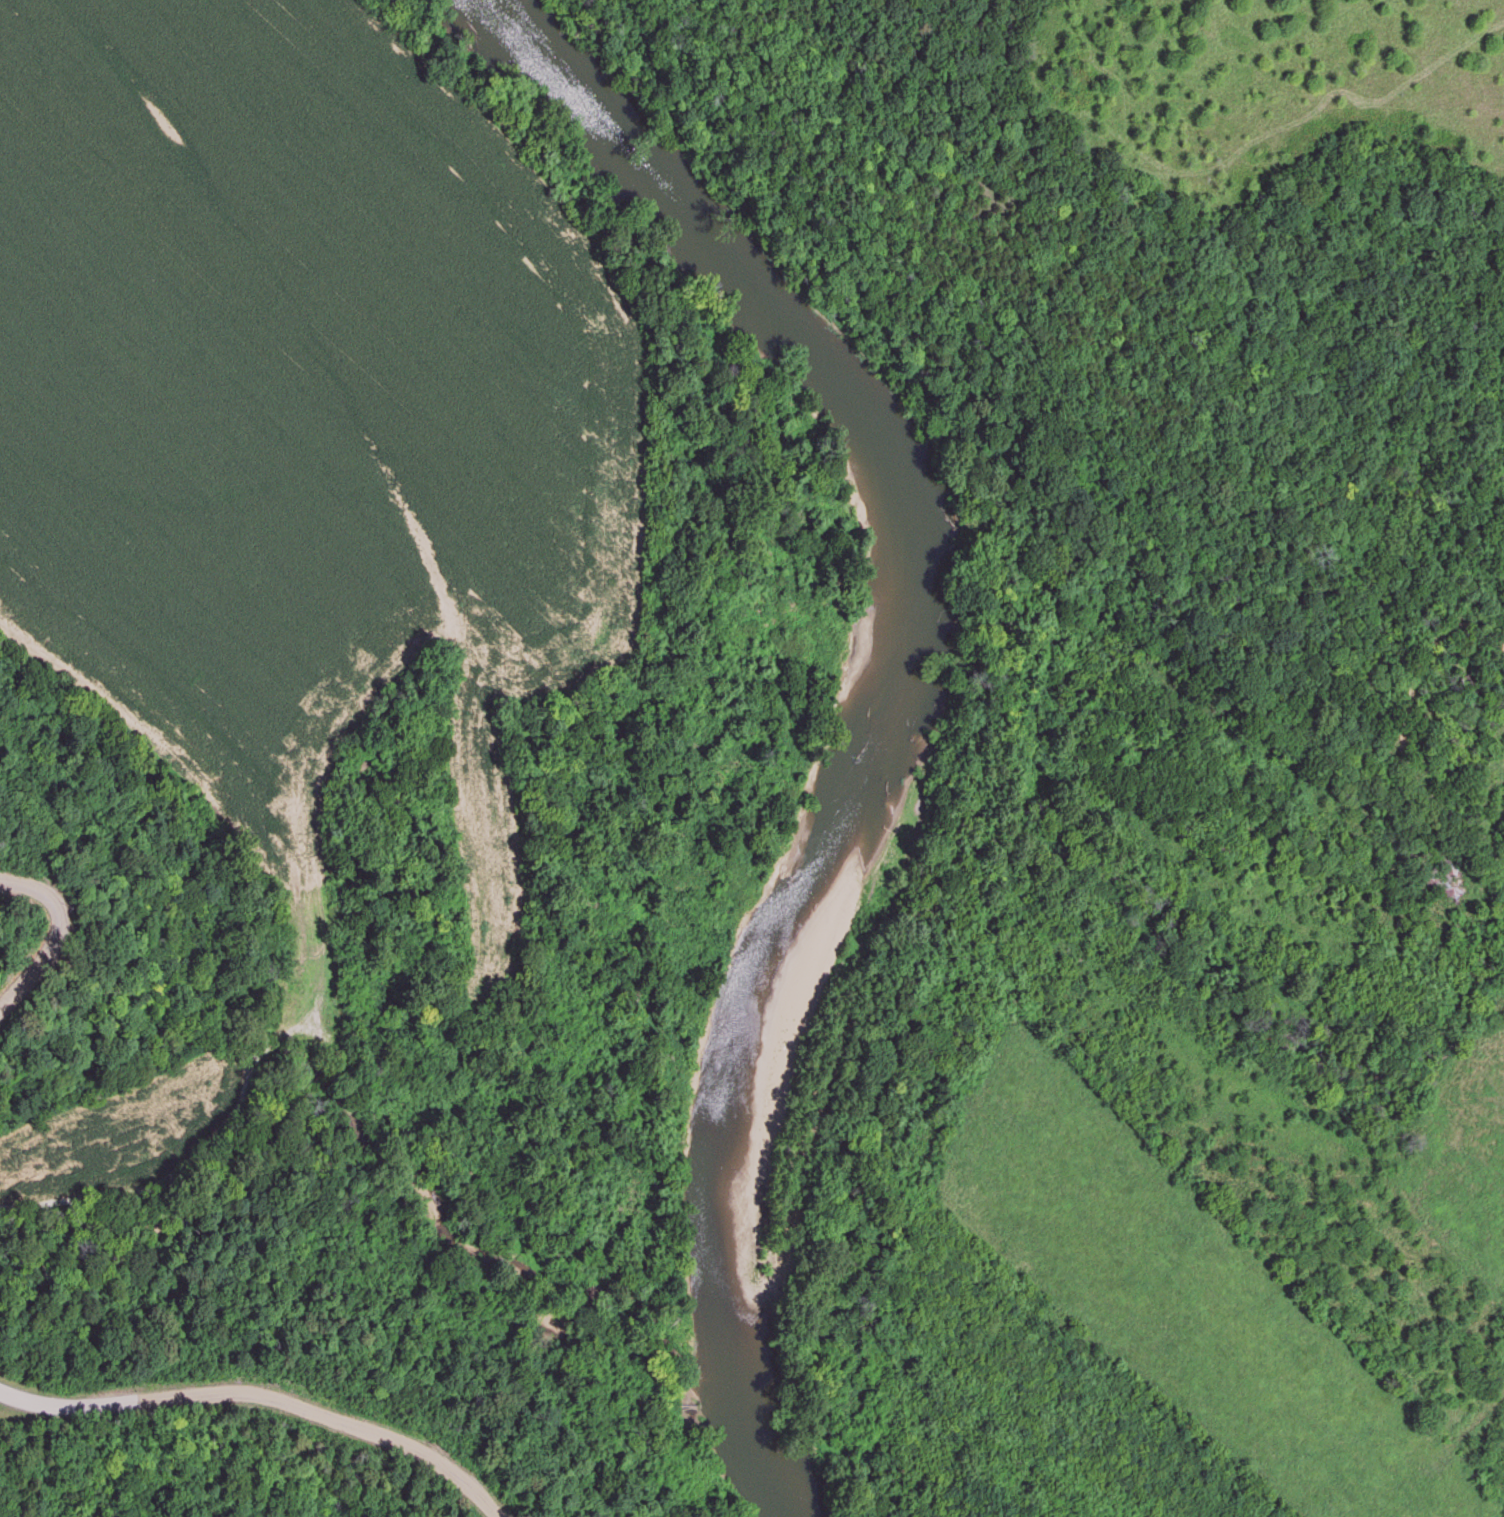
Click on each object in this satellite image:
river: (898, 698)
road: (1415, 712)
road: (56, 934)
road: (268, 1414)

